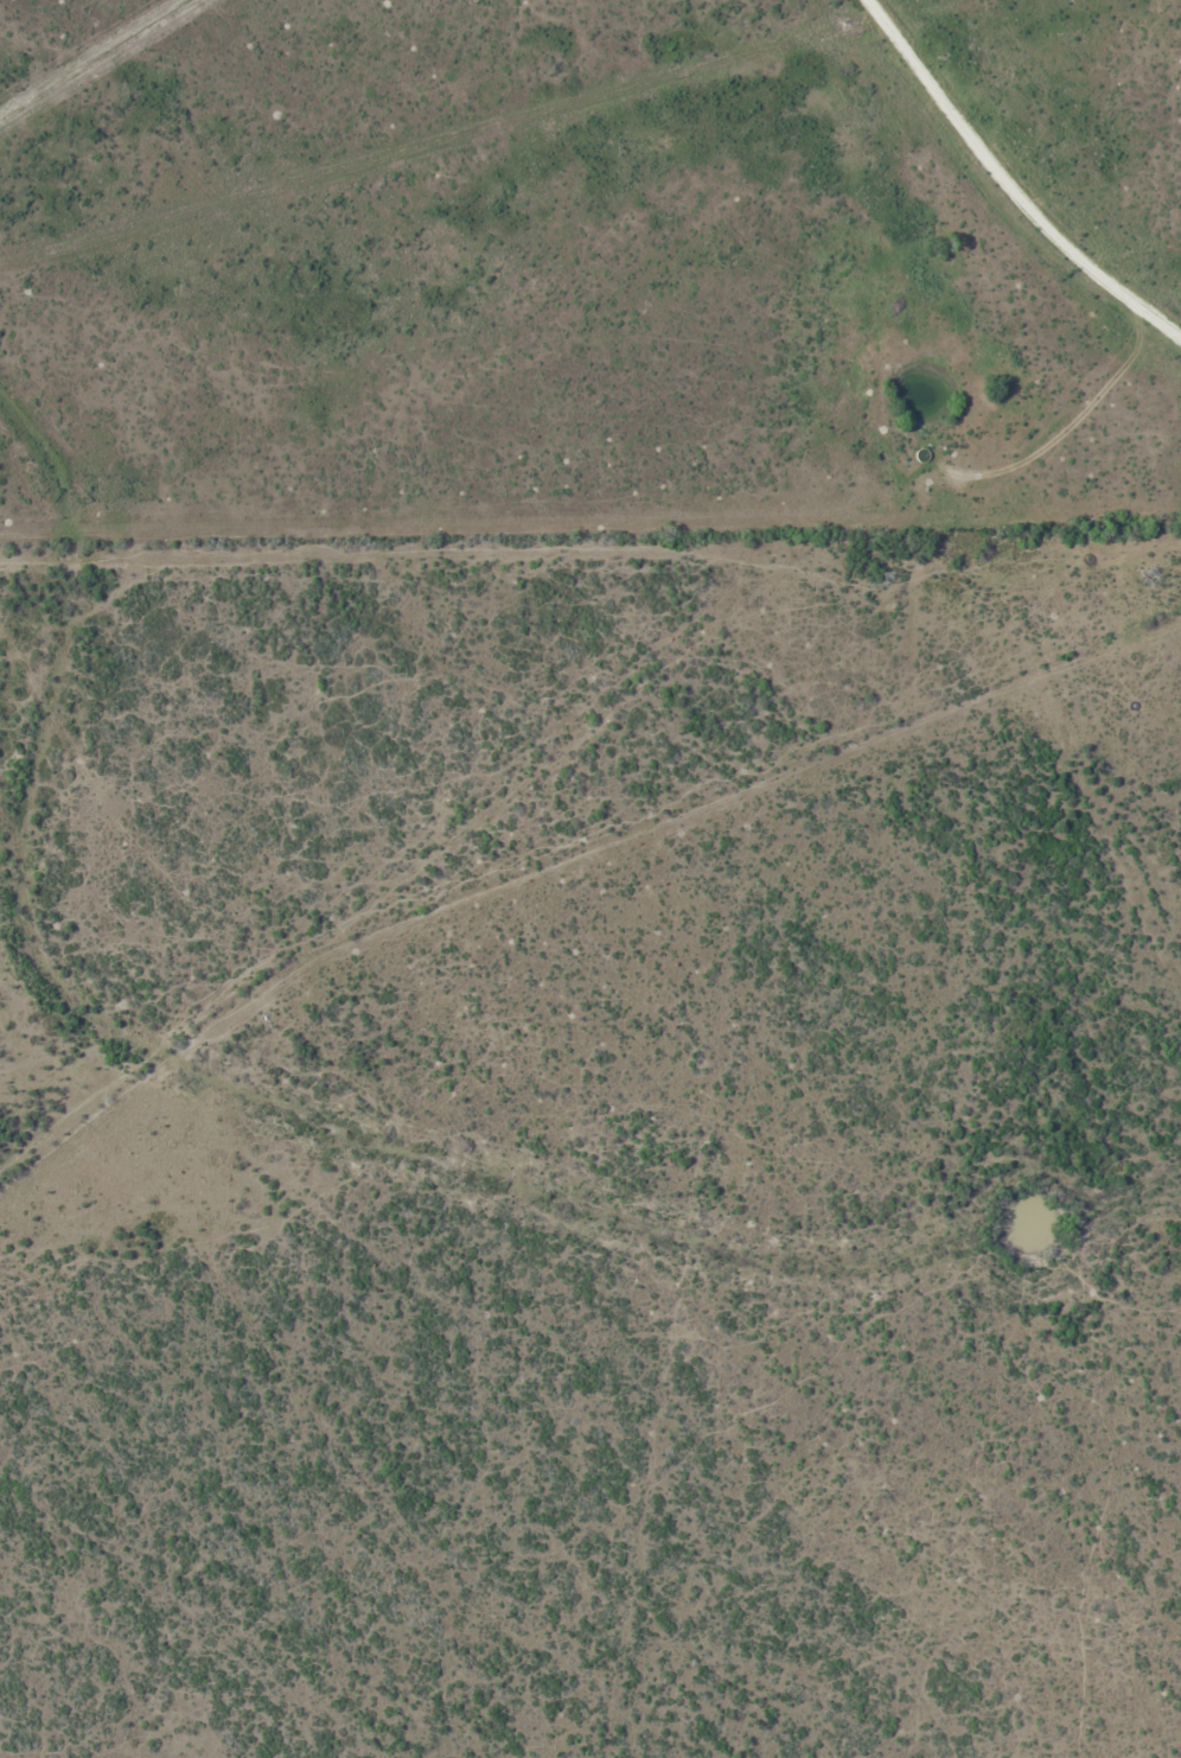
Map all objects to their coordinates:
road: (949, 234)

